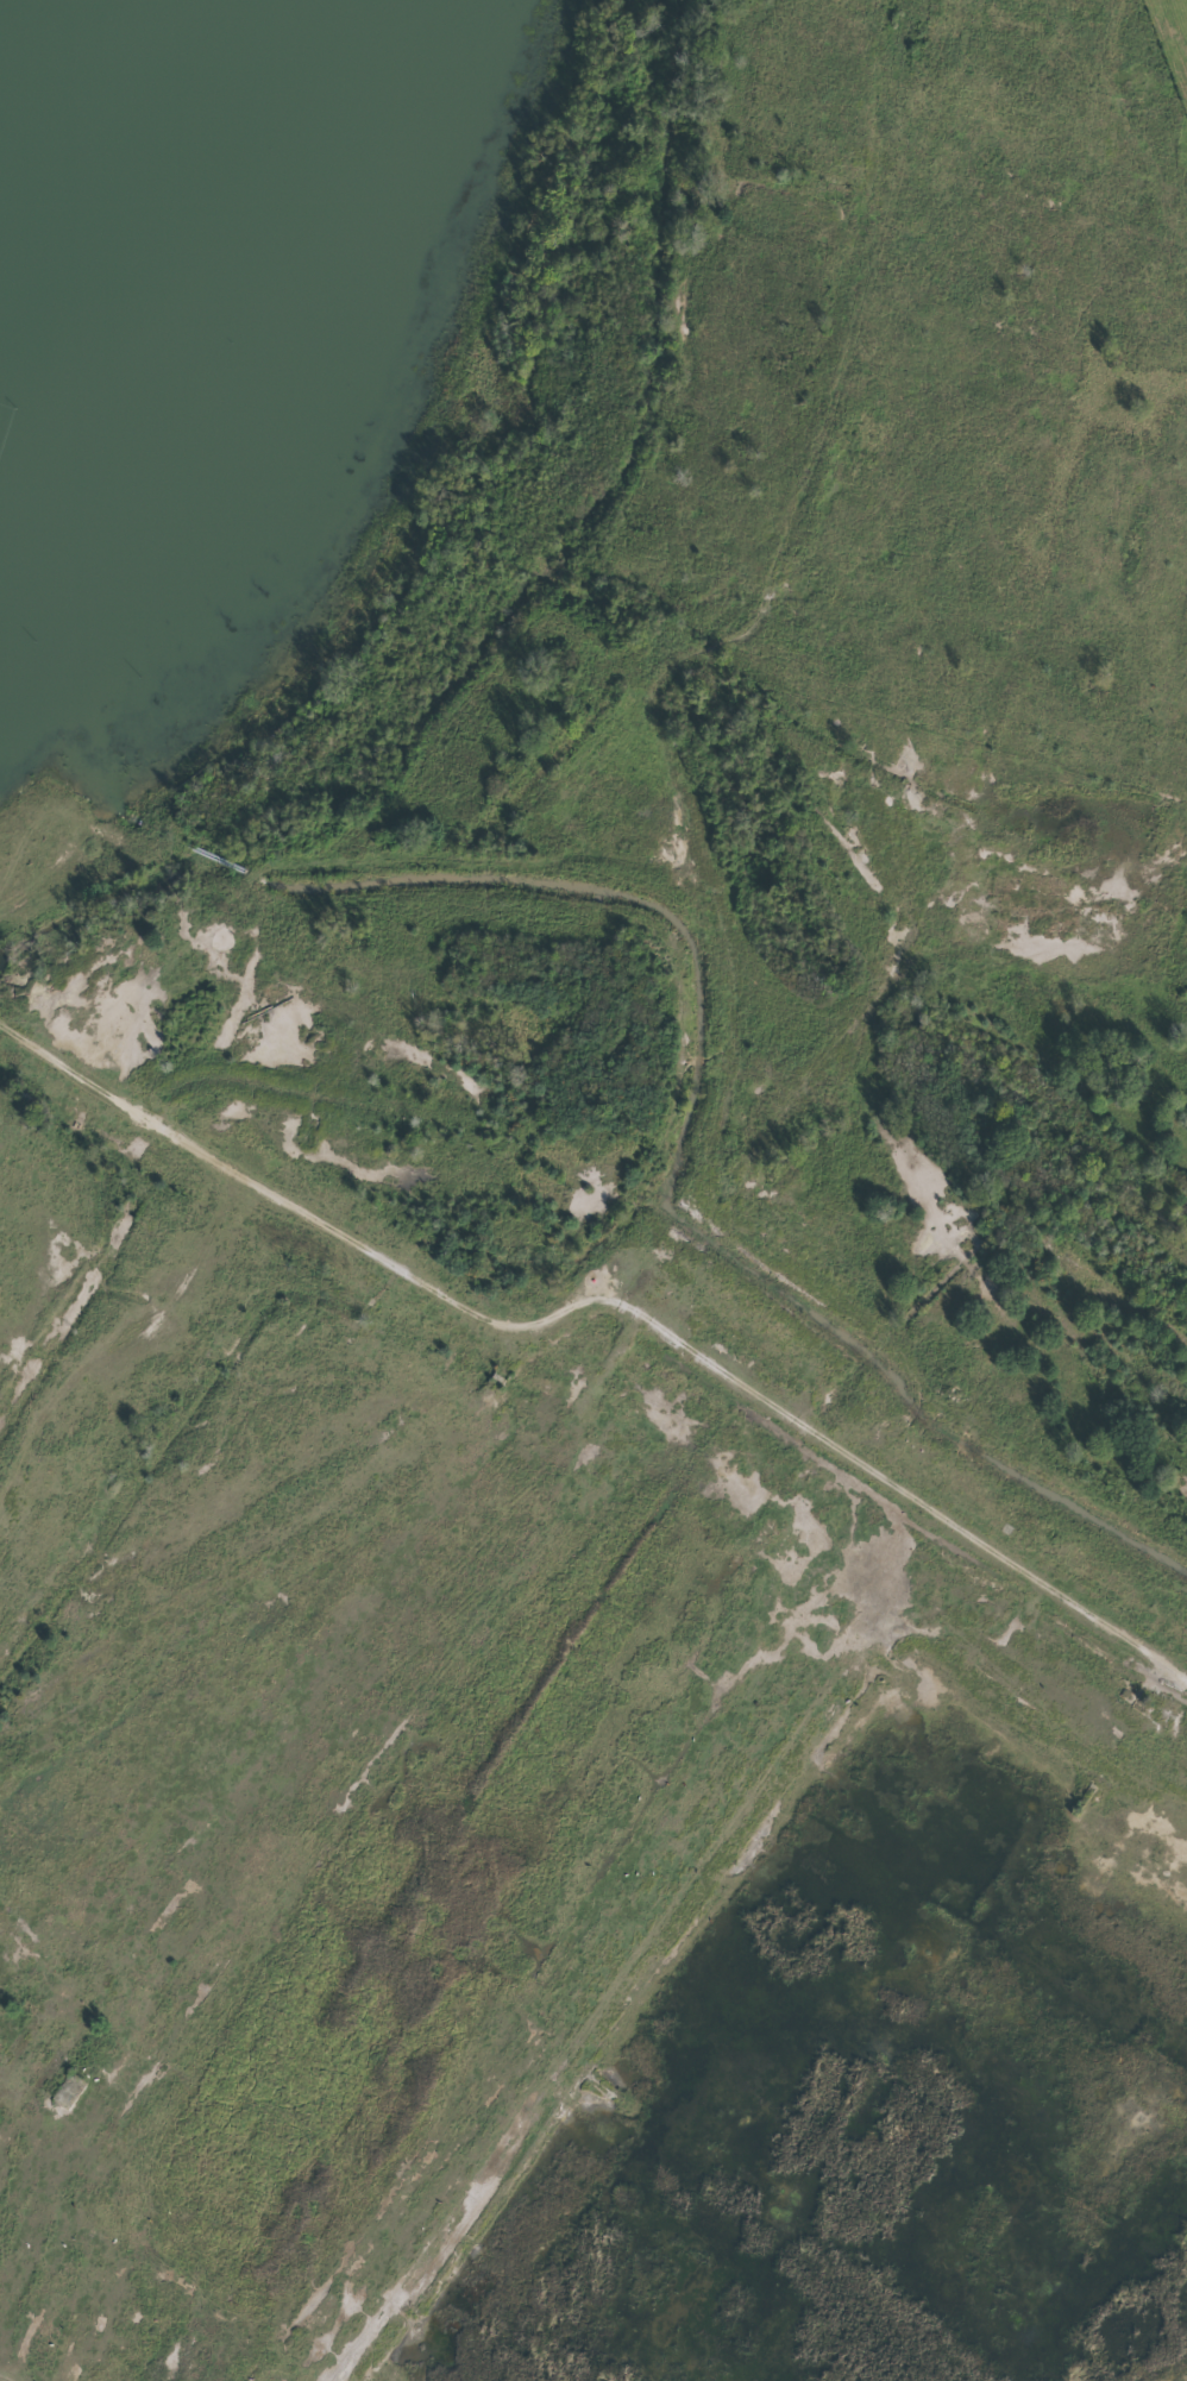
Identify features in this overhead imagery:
airport: (1174, 31)
road: (607, 1303)
road: (243, 1528)

